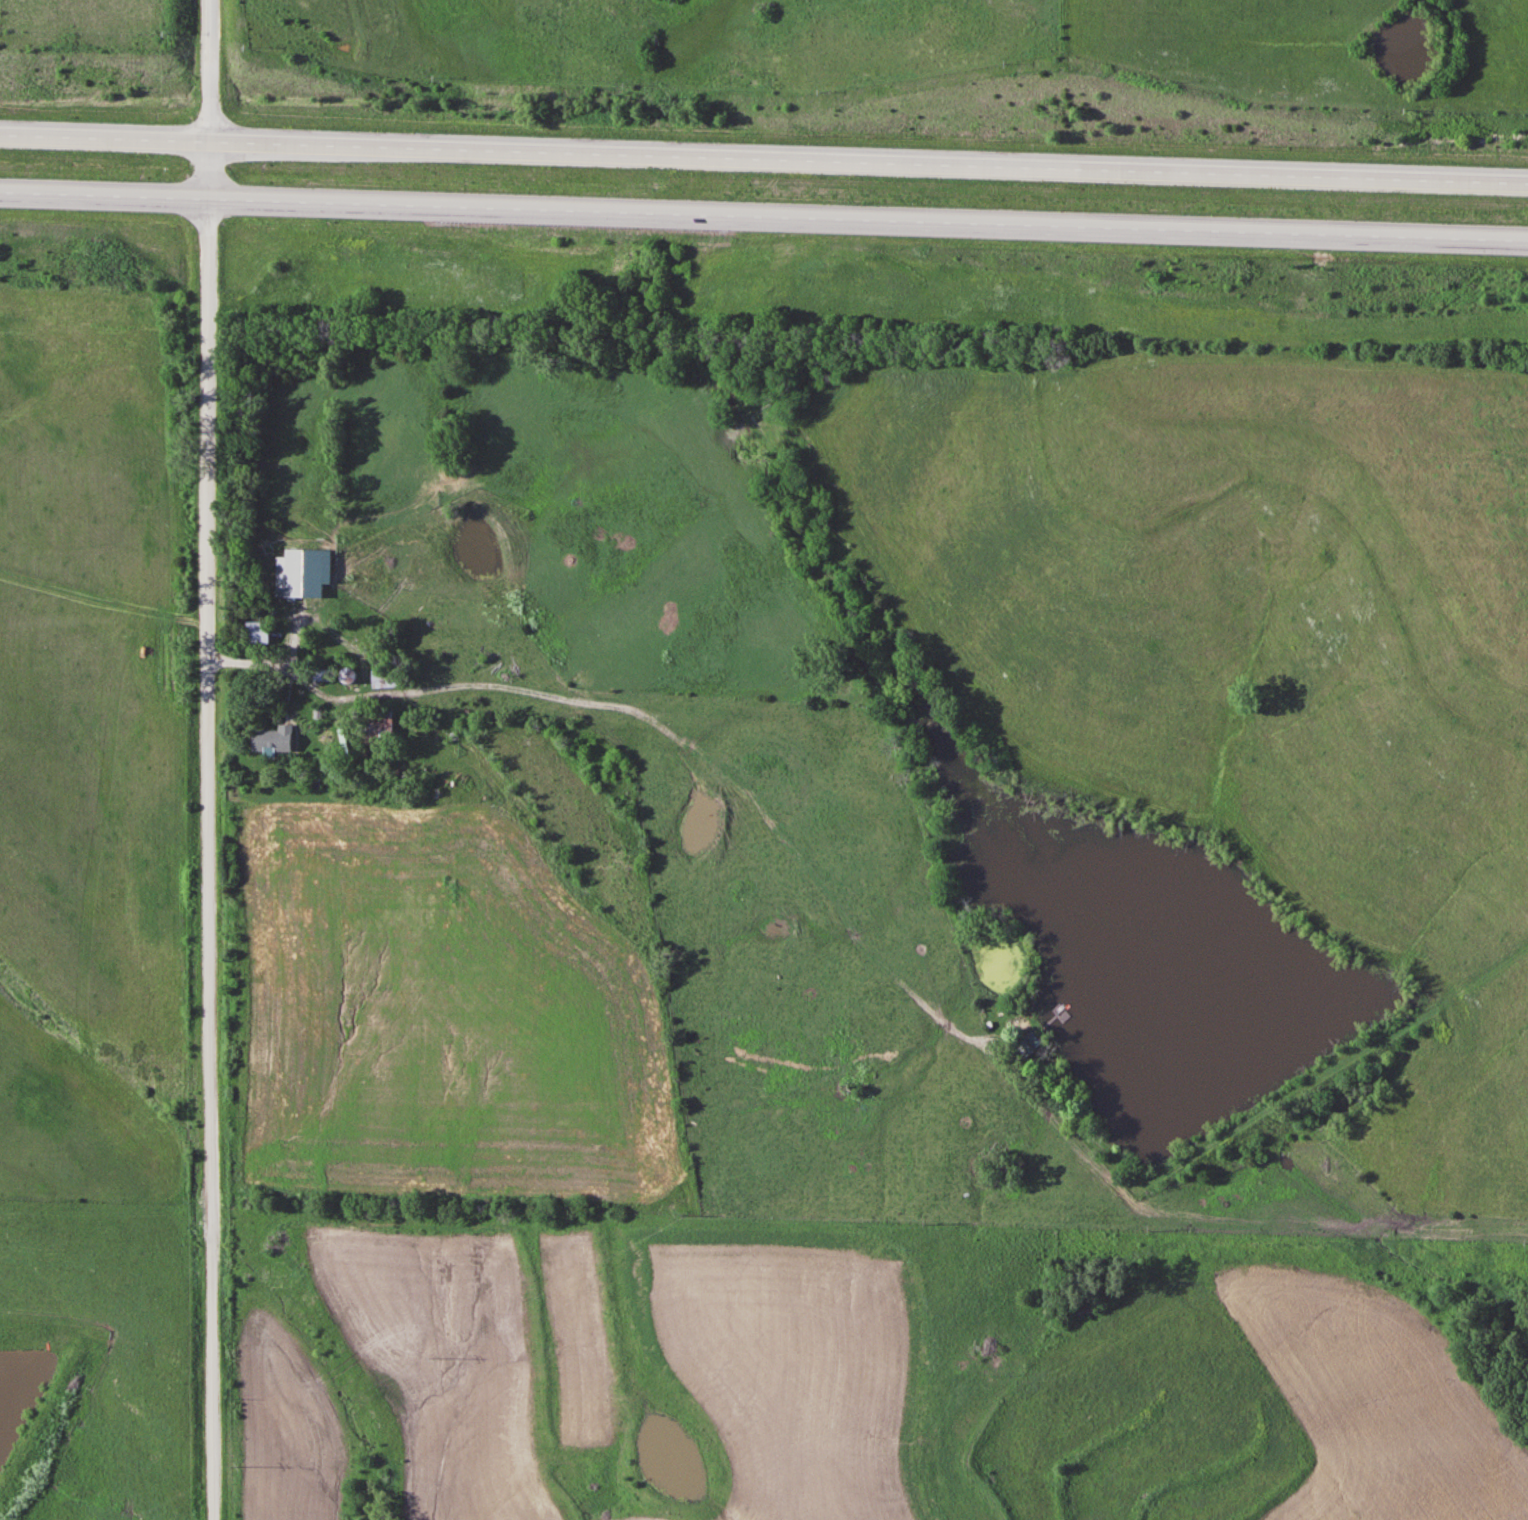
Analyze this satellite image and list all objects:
road: (764, 157)
road: (764, 214)
building: (313, 536)
building: (264, 633)
building: (352, 676)
building: (388, 678)
building: (380, 726)
building: (280, 739)
road: (207, 759)

